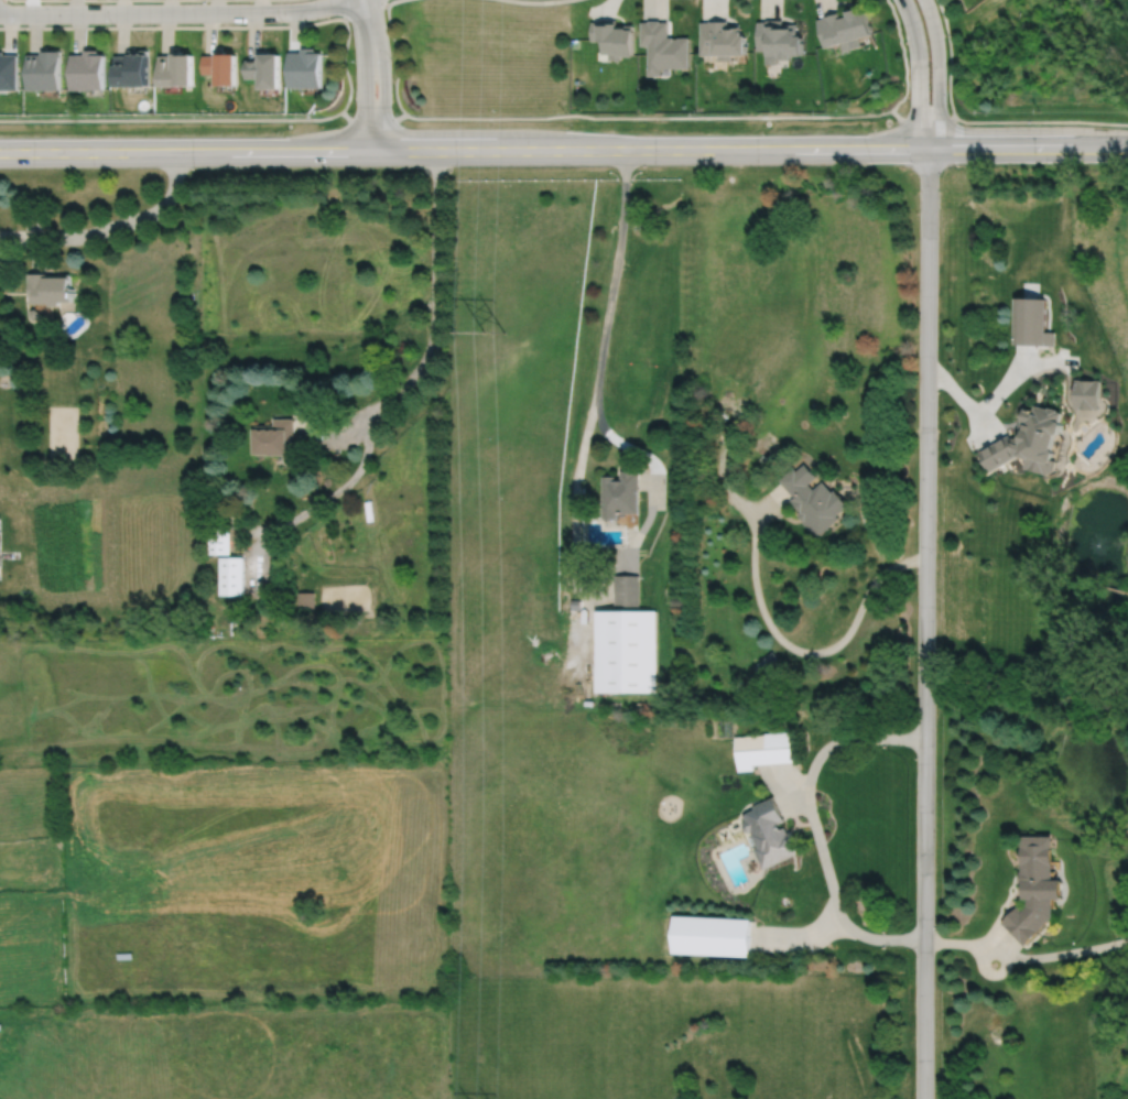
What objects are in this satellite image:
road: (536, 1)
road: (390, 2)
road: (365, 9)
road: (344, 10)
road: (173, 12)
road: (220, 25)
building: (846, 26)
building: (616, 36)
building: (722, 37)
building: (779, 39)
building: (664, 46)
road: (903, 55)
road: (400, 56)
road: (951, 57)
park: (478, 63)
building: (221, 66)
building: (134, 67)
building: (305, 67)
building: (46, 68)
building: (176, 68)
building: (264, 68)
building: (89, 69)
building: (9, 70)
road: (382, 73)
road: (919, 73)
road: (939, 74)
road: (364, 75)
road: (563, 115)
road: (563, 149)
road: (130, 221)
road: (34, 237)
road: (614, 275)
building: (51, 287)
road: (436, 296)
building: (1032, 322)
power tower: (493, 331)
road: (1019, 369)
building: (1087, 393)
road: (964, 400)
road: (336, 425)
building: (273, 437)
building: (1031, 442)
road: (723, 461)
building: (620, 494)
building: (813, 500)
road: (314, 503)
road: (768, 503)
building: (219, 537)
building: (1, 538)
road: (609, 572)
building: (230, 574)
building: (626, 590)
building: (305, 598)
road: (925, 622)
building: (626, 649)
road: (810, 653)
building: (767, 662)
road: (845, 739)
building: (764, 748)
road: (784, 795)
building: (769, 827)
road: (824, 858)
crop: (246, 878)
building: (1035, 886)
building: (712, 935)
road: (802, 937)
road: (878, 937)
road: (952, 942)
road: (1053, 953)
building: (124, 955)
road: (989, 972)
building: (1, 1025)

